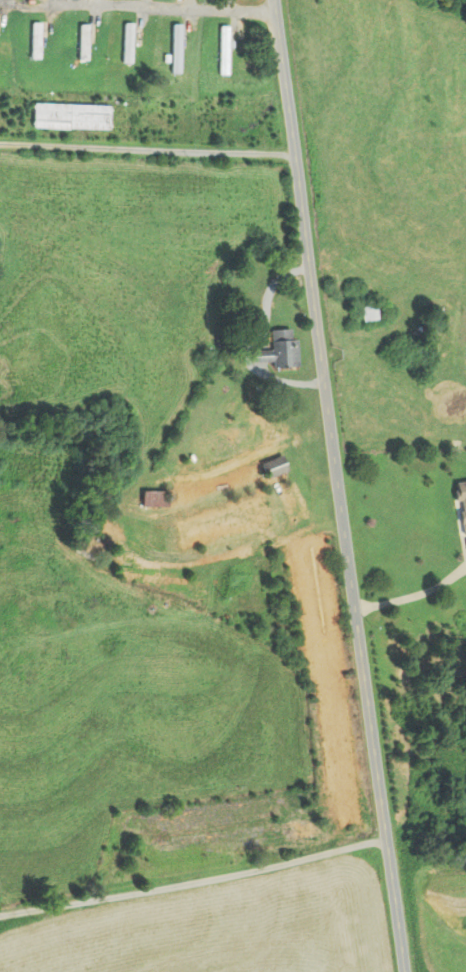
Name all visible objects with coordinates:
road: (170, 5)
building: (36, 41)
building: (131, 41)
building: (83, 42)
building: (176, 49)
building: (224, 51)
road: (147, 146)
building: (278, 351)
building: (244, 479)
road: (338, 486)
building: (154, 500)
building: (461, 506)
building: (223, 521)
road: (414, 596)
road: (194, 883)

